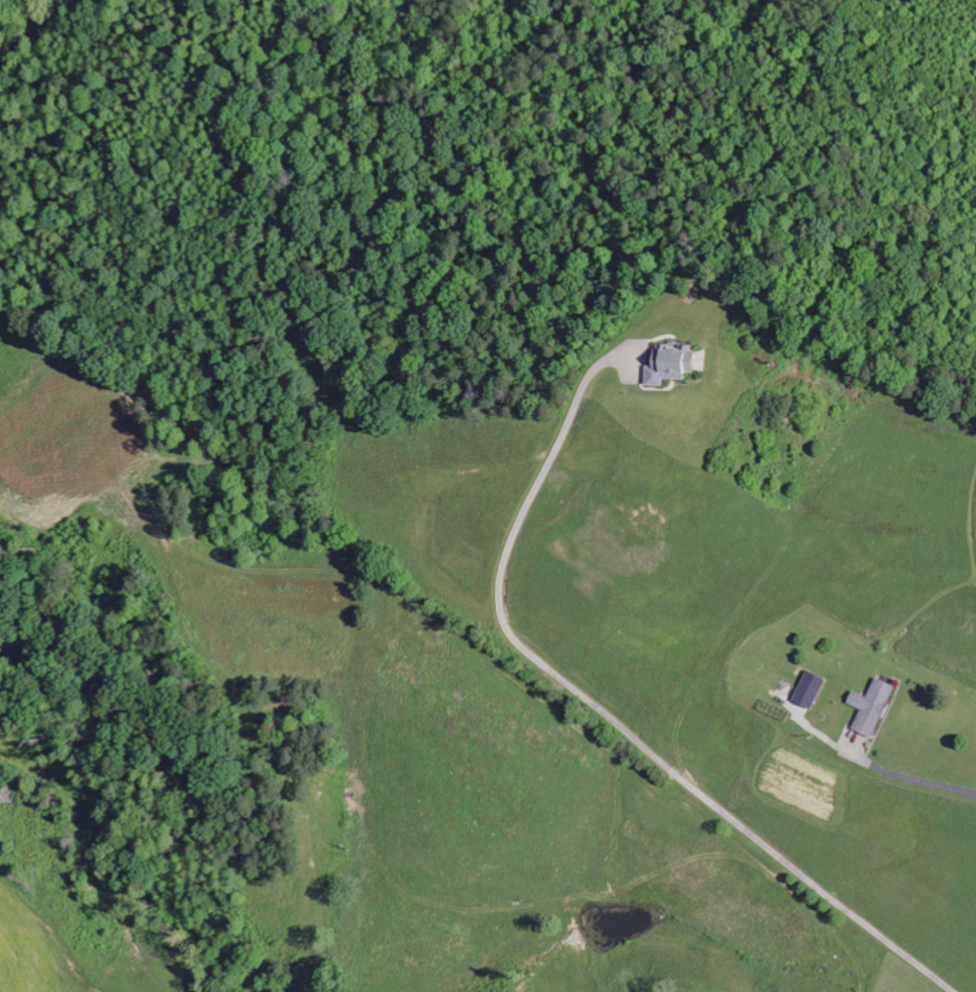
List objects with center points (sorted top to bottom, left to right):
building: (666, 363)
building: (808, 690)
building: (871, 707)

